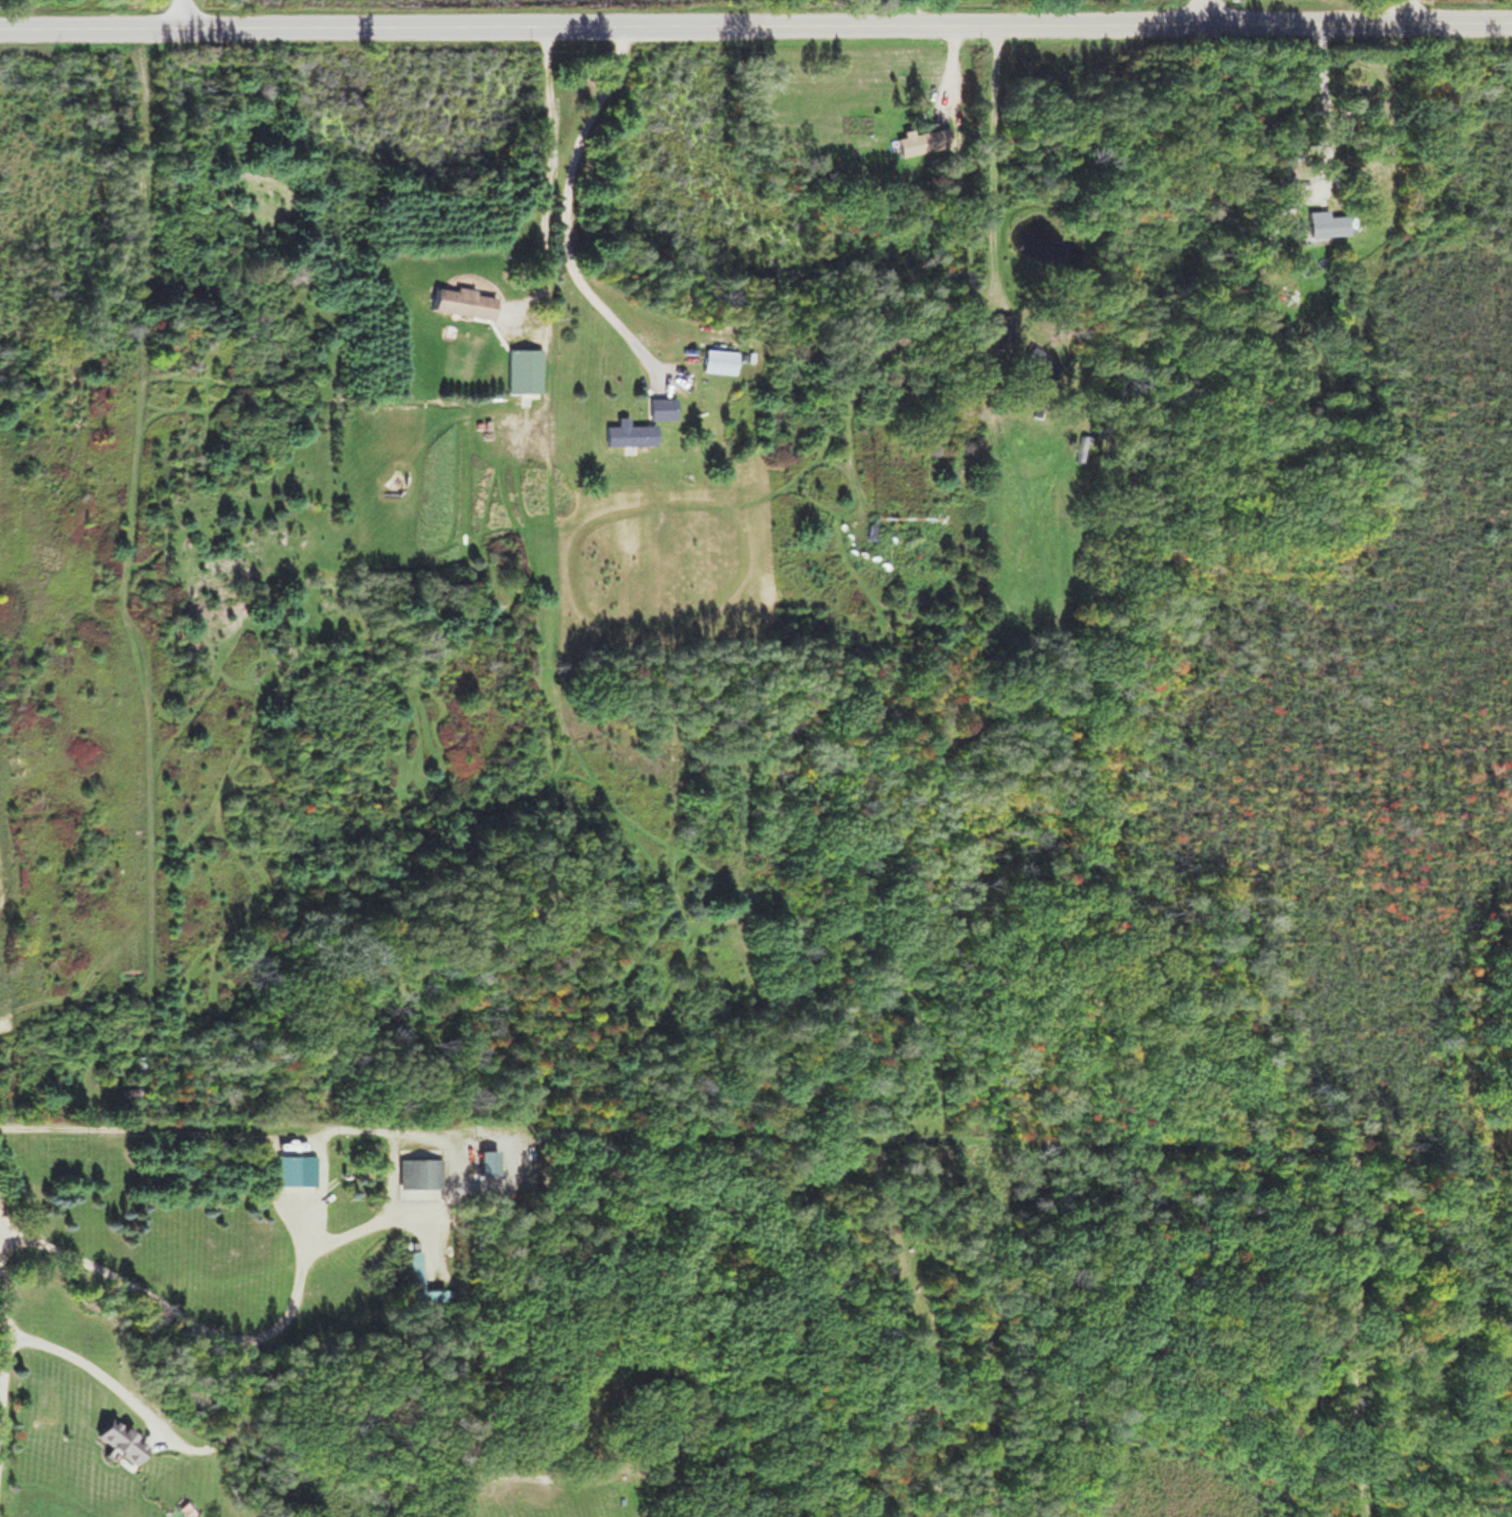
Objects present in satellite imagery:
road: (1406, 9)
road: (1199, 11)
road: (183, 14)
road: (756, 24)
building: (919, 139)
building: (1276, 192)
building: (1319, 224)
building: (459, 301)
building: (993, 331)
building: (714, 360)
building: (1033, 362)
building: (521, 370)
building: (658, 407)
building: (622, 434)
building: (869, 531)
building: (125, 1092)
building: (292, 1169)
building: (415, 1172)
building: (416, 1280)
road: (11, 1383)
building: (114, 1441)

